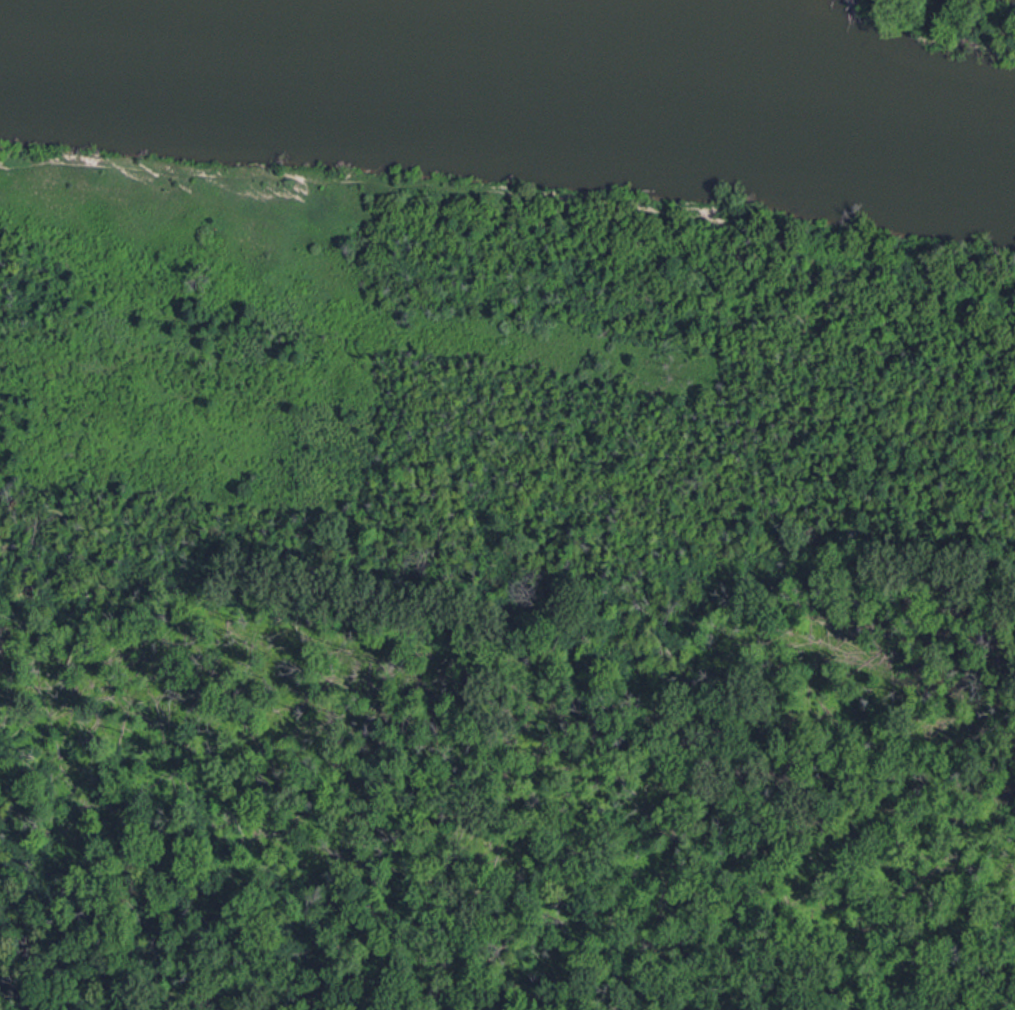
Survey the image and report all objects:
river: (508, 76)
road: (508, 214)

